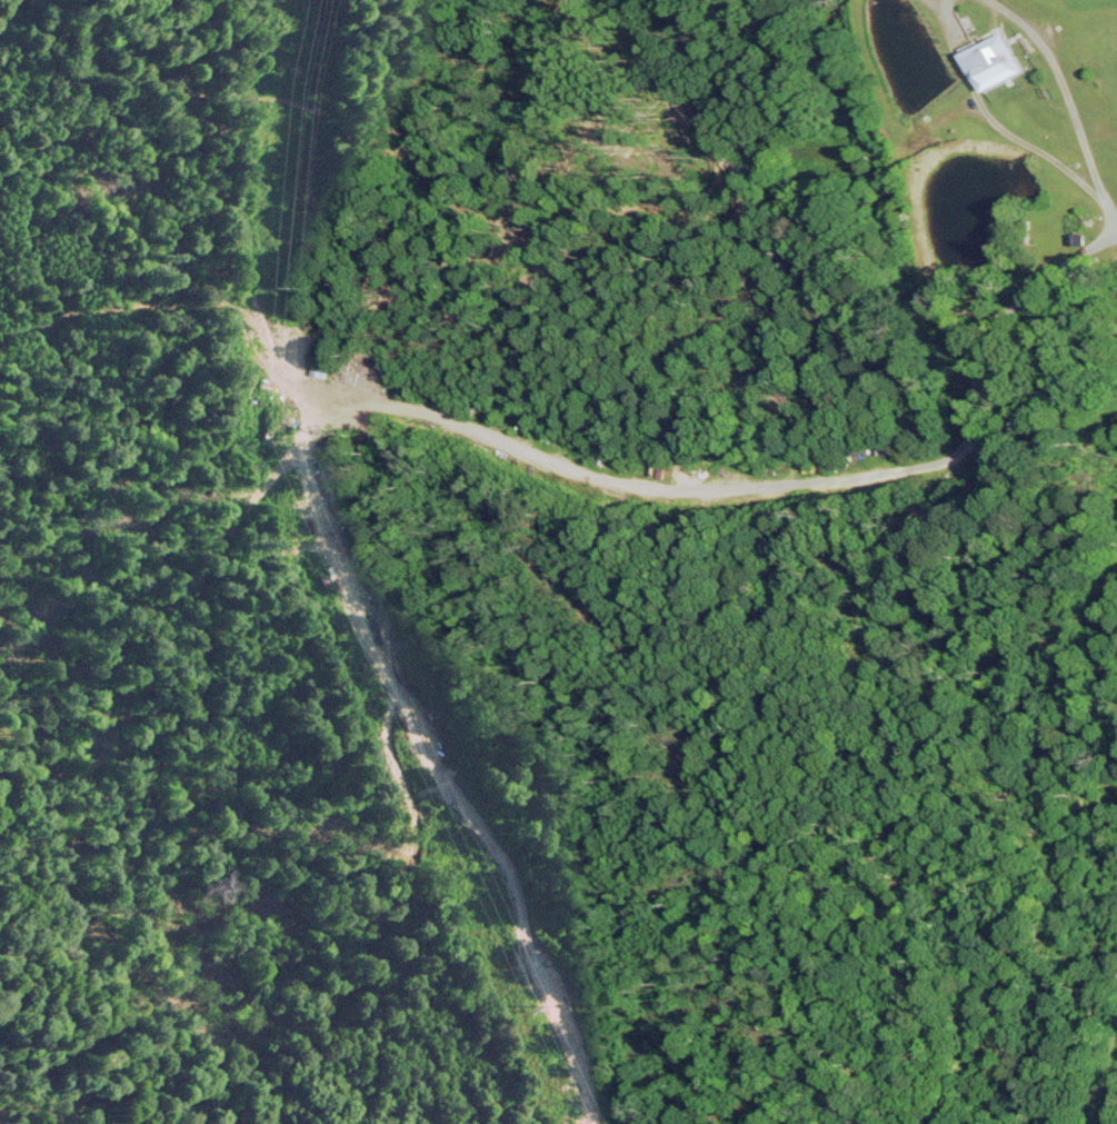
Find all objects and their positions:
building: (993, 58)
road: (1028, 241)

